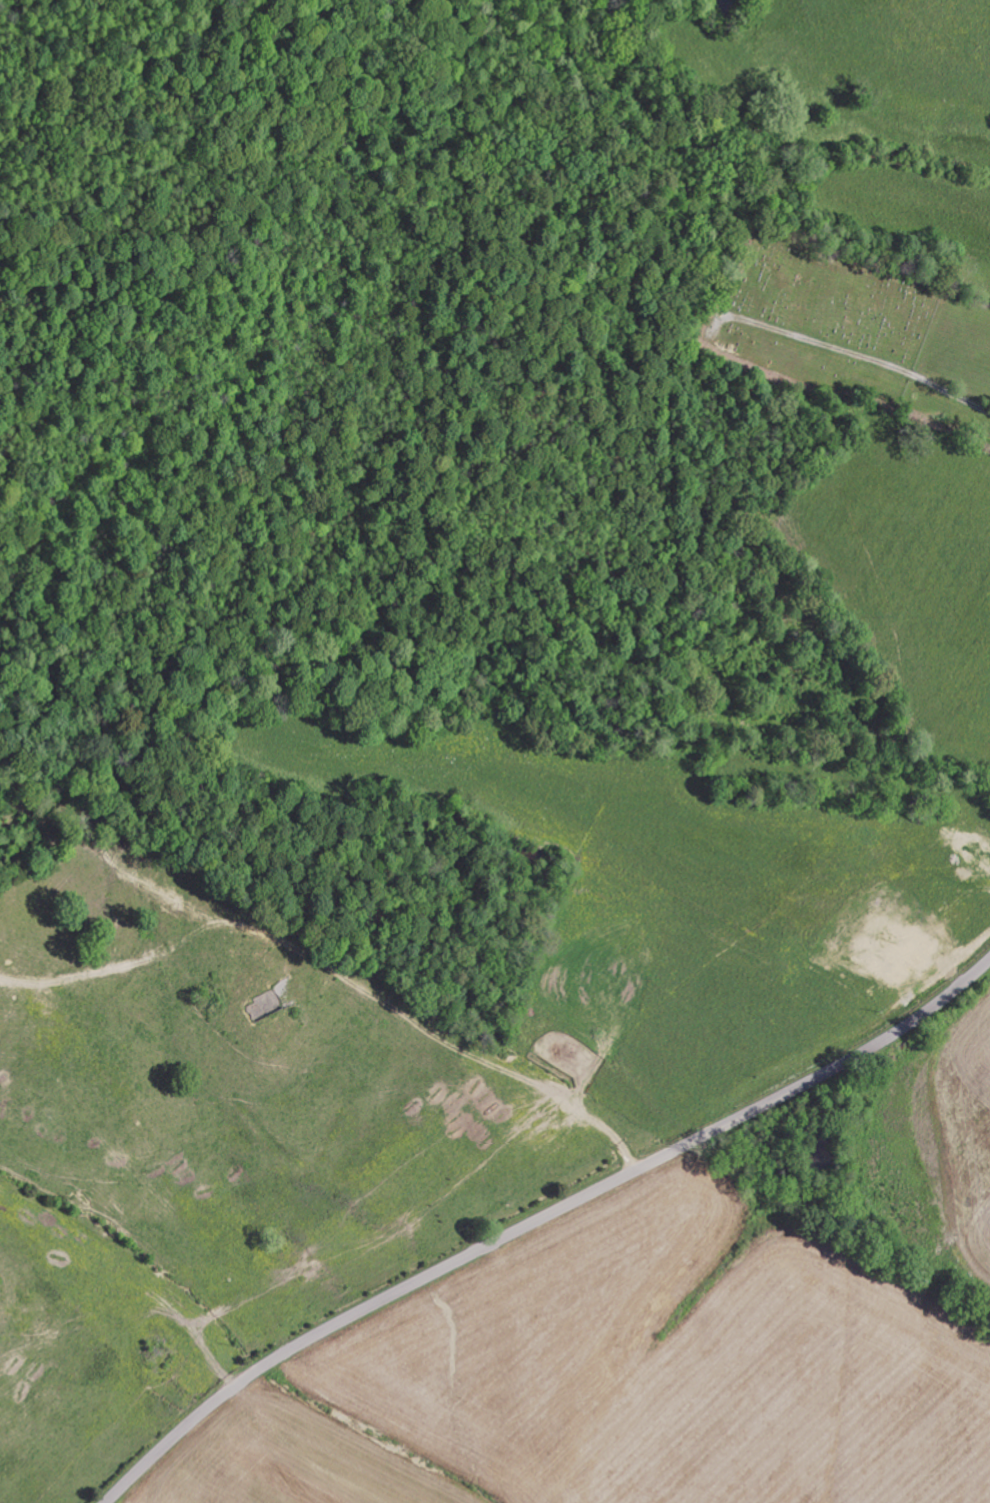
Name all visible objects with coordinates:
park: (823, 316)
road: (963, 392)
road: (539, 1217)

